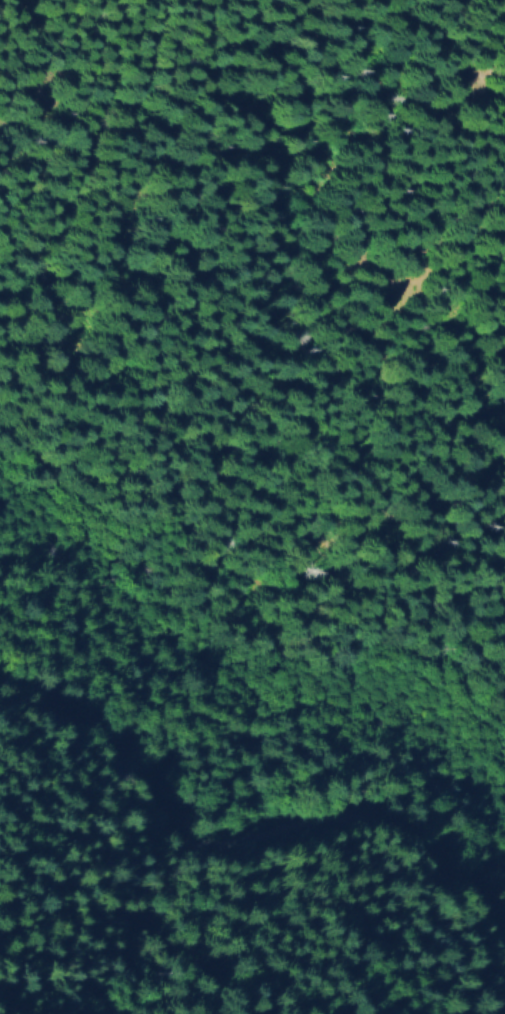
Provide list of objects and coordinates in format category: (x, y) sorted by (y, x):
road: (249, 836)

